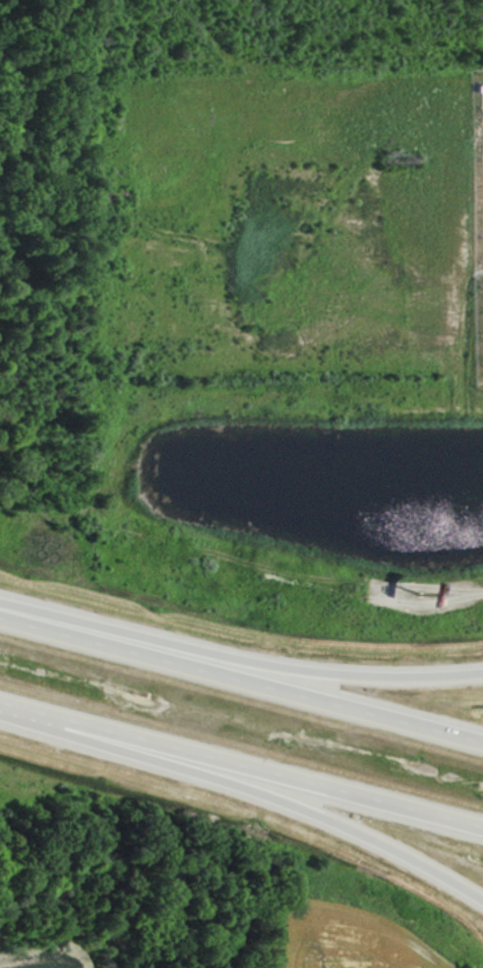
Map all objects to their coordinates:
road: (239, 652)
road: (241, 672)
road: (241, 767)
road: (246, 796)

